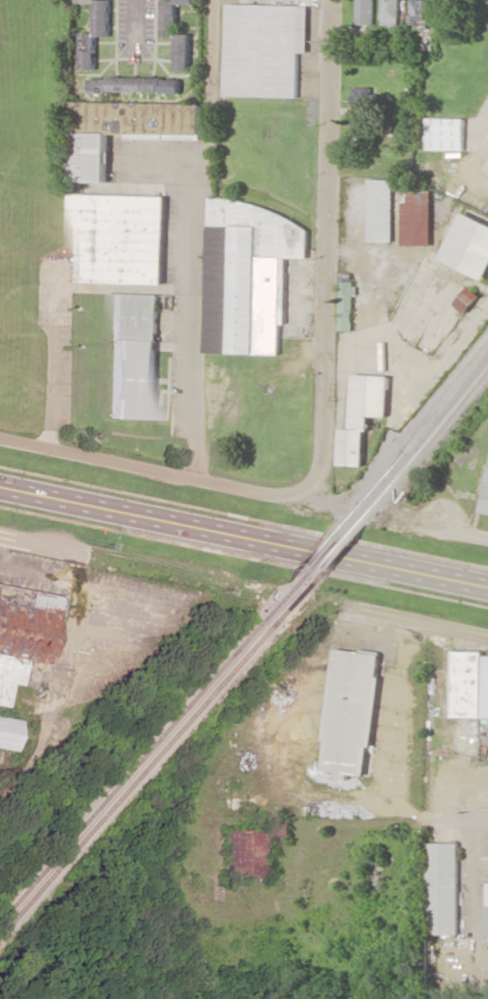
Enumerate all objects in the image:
building: (418, 11)
building: (365, 12)
building: (390, 12)
building: (99, 16)
building: (175, 35)
building: (264, 49)
building: (87, 50)
building: (134, 85)
park: (24, 86)
building: (360, 96)
building: (122, 130)
building: (445, 134)
park: (29, 177)
building: (379, 210)
building: (416, 218)
building: (116, 239)
road: (320, 246)
building: (468, 246)
building: (466, 299)
building: (345, 305)
building: (132, 356)
building: (362, 415)
railway: (412, 427)
railway: (418, 437)
railway: (425, 446)
road: (151, 471)
building: (485, 499)
road: (463, 528)
road: (244, 535)
railway: (326, 543)
road: (30, 545)
railway: (321, 552)
railway: (333, 554)
road: (422, 621)
building: (22, 624)
building: (469, 684)
road: (400, 709)
building: (348, 712)
building: (8, 733)
railway: (146, 751)
railway: (153, 759)
road: (438, 802)
building: (251, 848)
building: (442, 888)
building: (487, 911)

